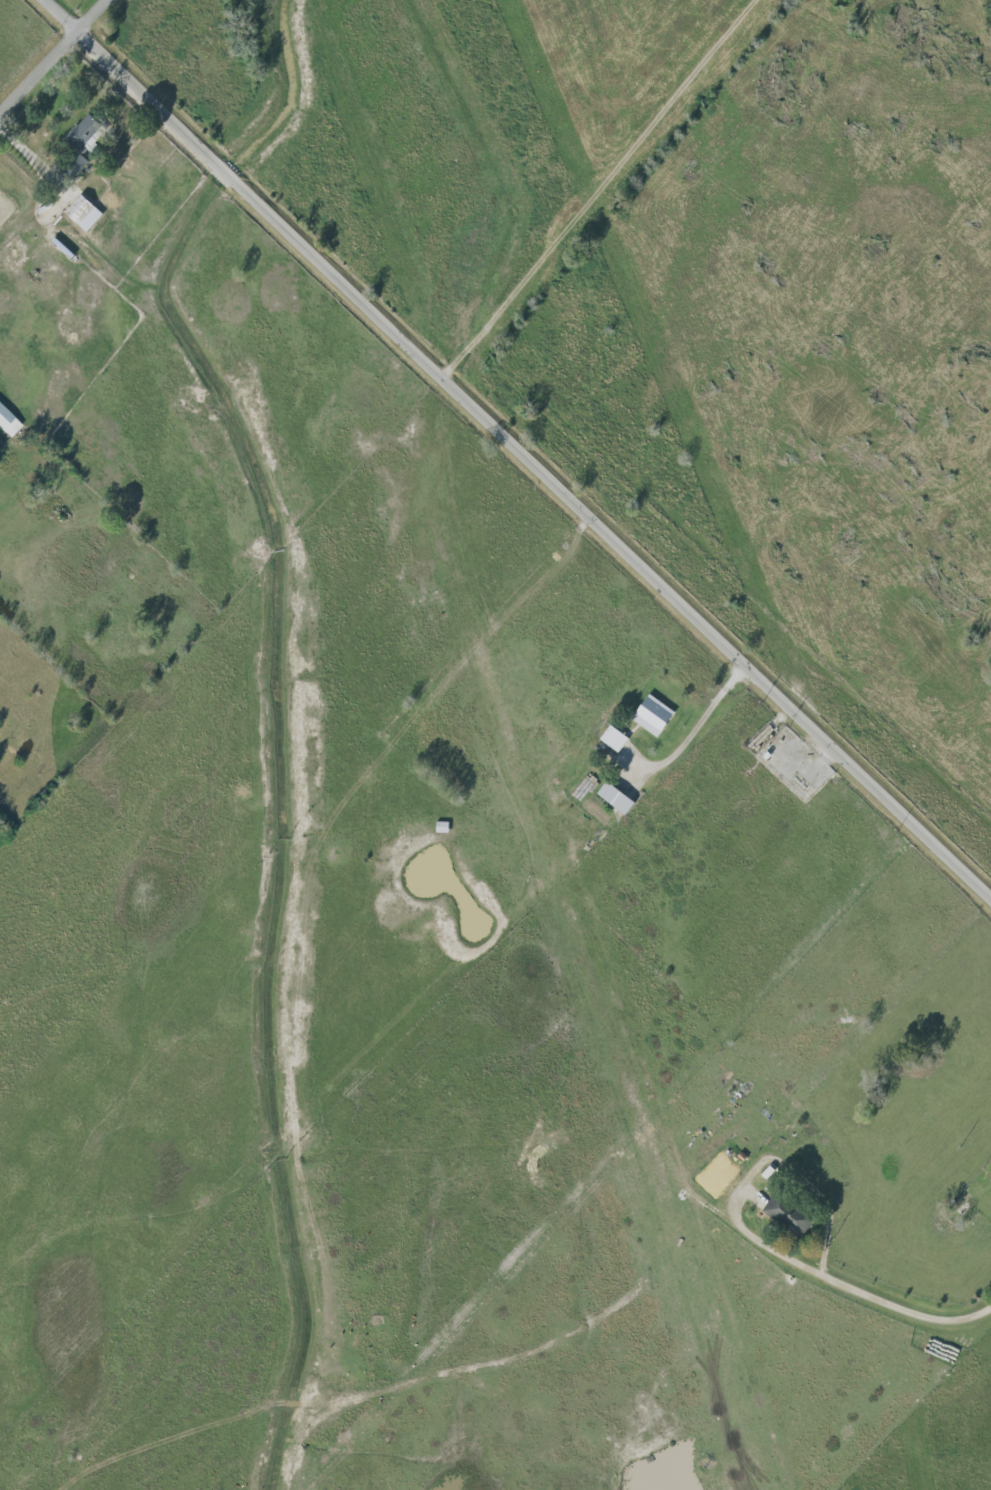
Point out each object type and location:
road: (53, 57)
building: (84, 133)
road: (30, 154)
road: (598, 189)
building: (85, 213)
building: (9, 421)
road: (515, 447)
building: (655, 716)
road: (693, 729)
building: (615, 738)
building: (618, 797)
road: (757, 1165)
building: (789, 1215)
road: (905, 1306)

